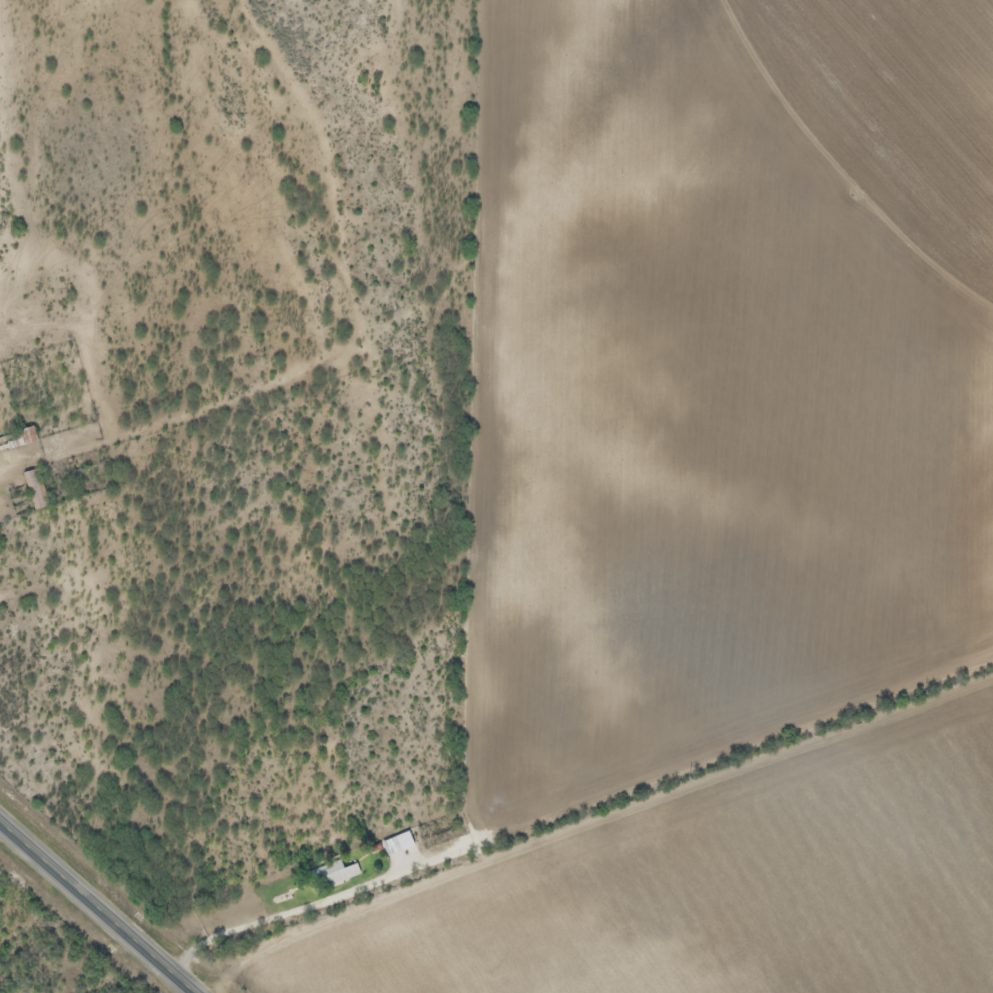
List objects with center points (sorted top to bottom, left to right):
road: (486, 262)
building: (16, 441)
building: (34, 490)
railway: (134, 873)
building: (333, 874)
road: (100, 905)

